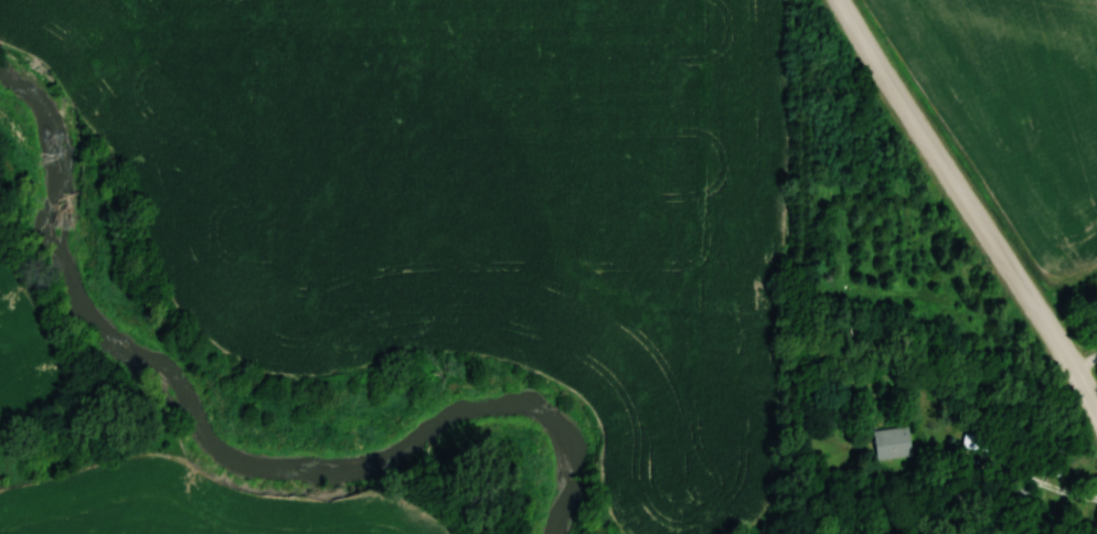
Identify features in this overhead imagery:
road: (966, 201)
building: (980, 442)
building: (892, 444)
river: (236, 453)
road: (1011, 472)
building: (1021, 493)

